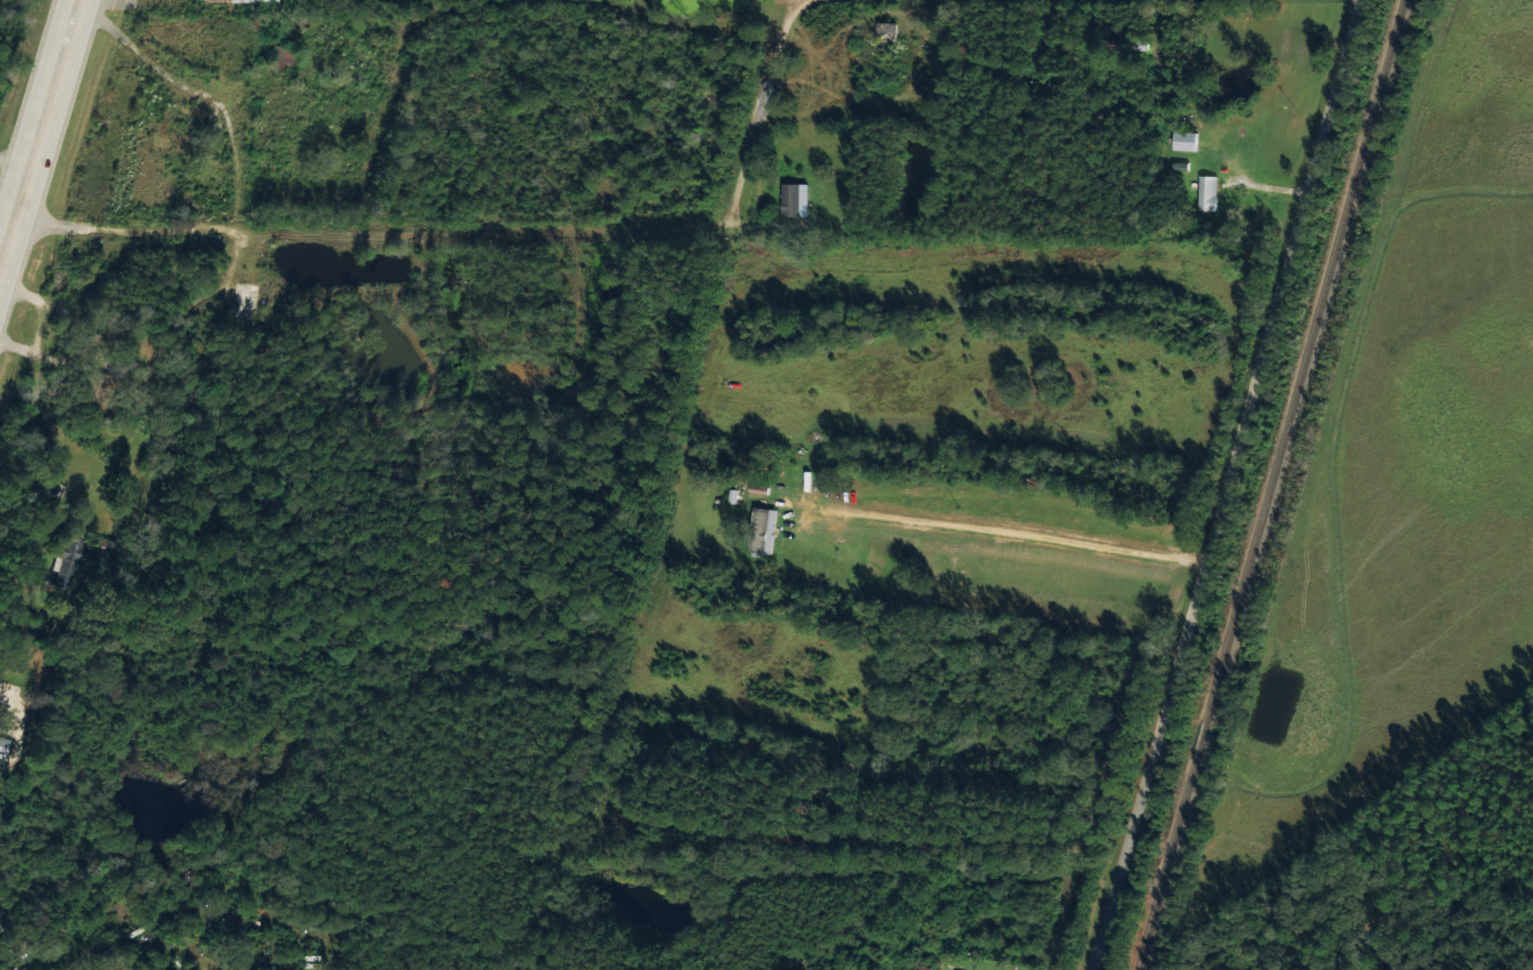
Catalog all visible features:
building: (248, 0)
building: (885, 31)
road: (154, 70)
road: (39, 129)
building: (1182, 139)
building: (1205, 191)
building: (793, 198)
road: (486, 231)
railway: (1271, 484)
road: (1224, 485)
building: (762, 530)
building: (63, 560)
building: (1, 743)

